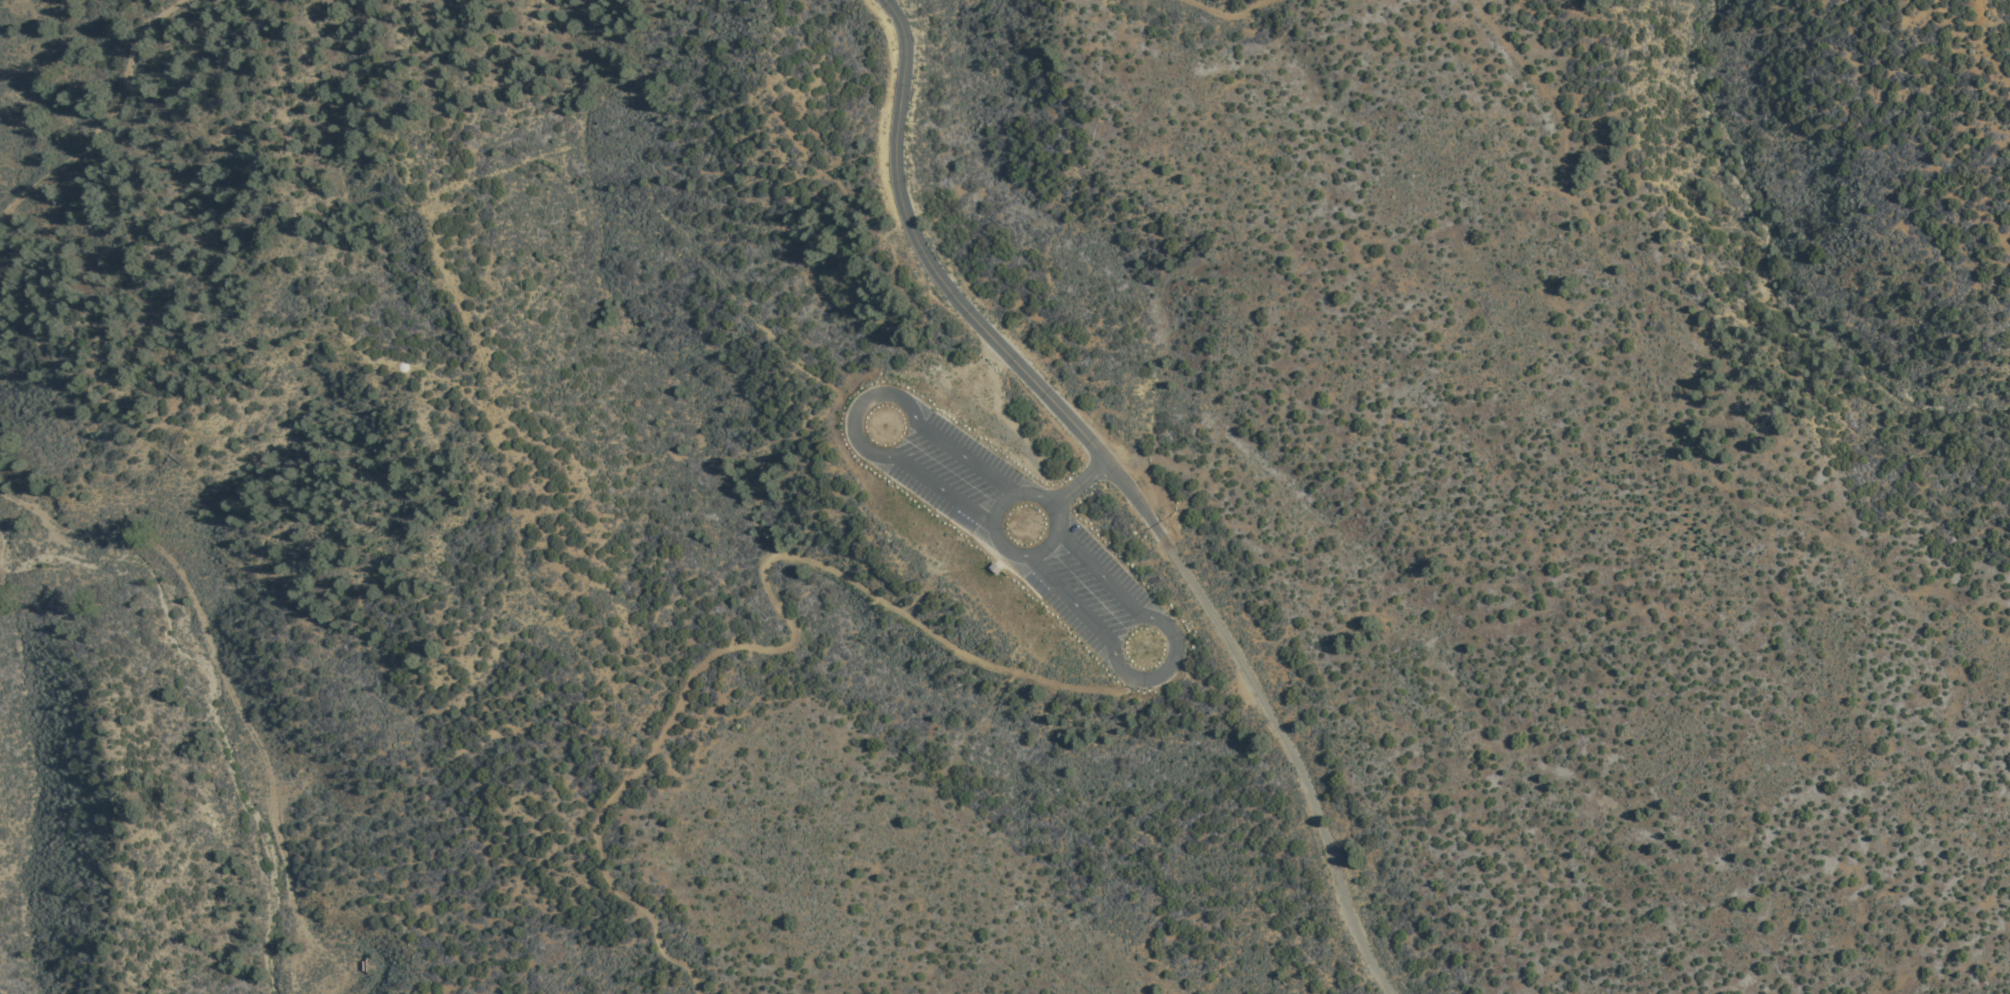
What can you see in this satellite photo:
road: (1224, 14)
road: (110, 121)
road: (955, 298)
road: (856, 406)
road: (966, 455)
road: (1078, 484)
road: (937, 493)
parking lot: (1016, 531)
road: (999, 545)
building: (994, 569)
road: (1100, 571)
road: (1067, 604)
road: (788, 638)
road: (214, 655)
road: (1166, 670)
road: (1291, 760)

